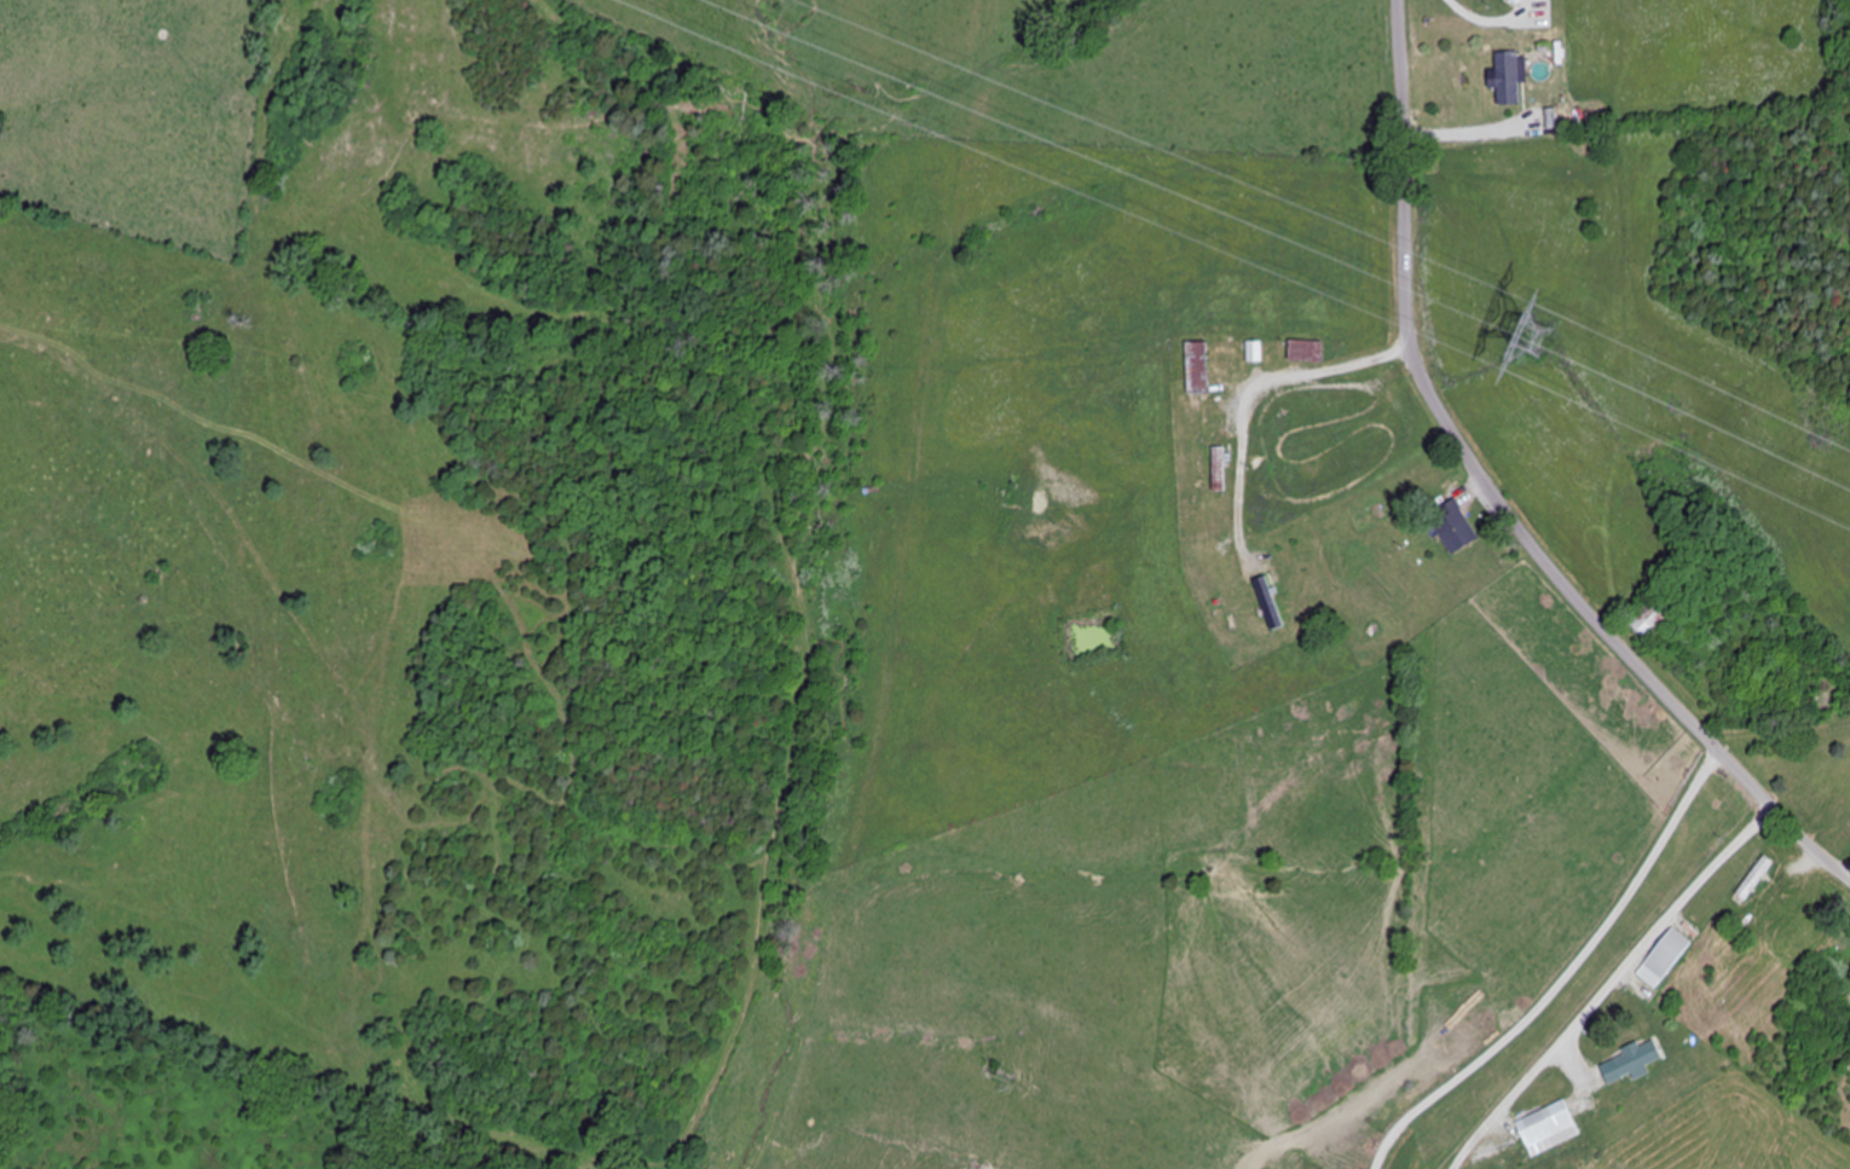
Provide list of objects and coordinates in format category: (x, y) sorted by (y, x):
building: (1508, 79)
power tower: (1544, 349)
building: (1256, 351)
building: (1308, 351)
building: (1213, 368)
road: (1496, 498)
building: (1456, 527)
building: (1650, 621)
building: (1756, 879)
building: (1666, 959)
building: (1638, 1059)
building: (1548, 1128)

